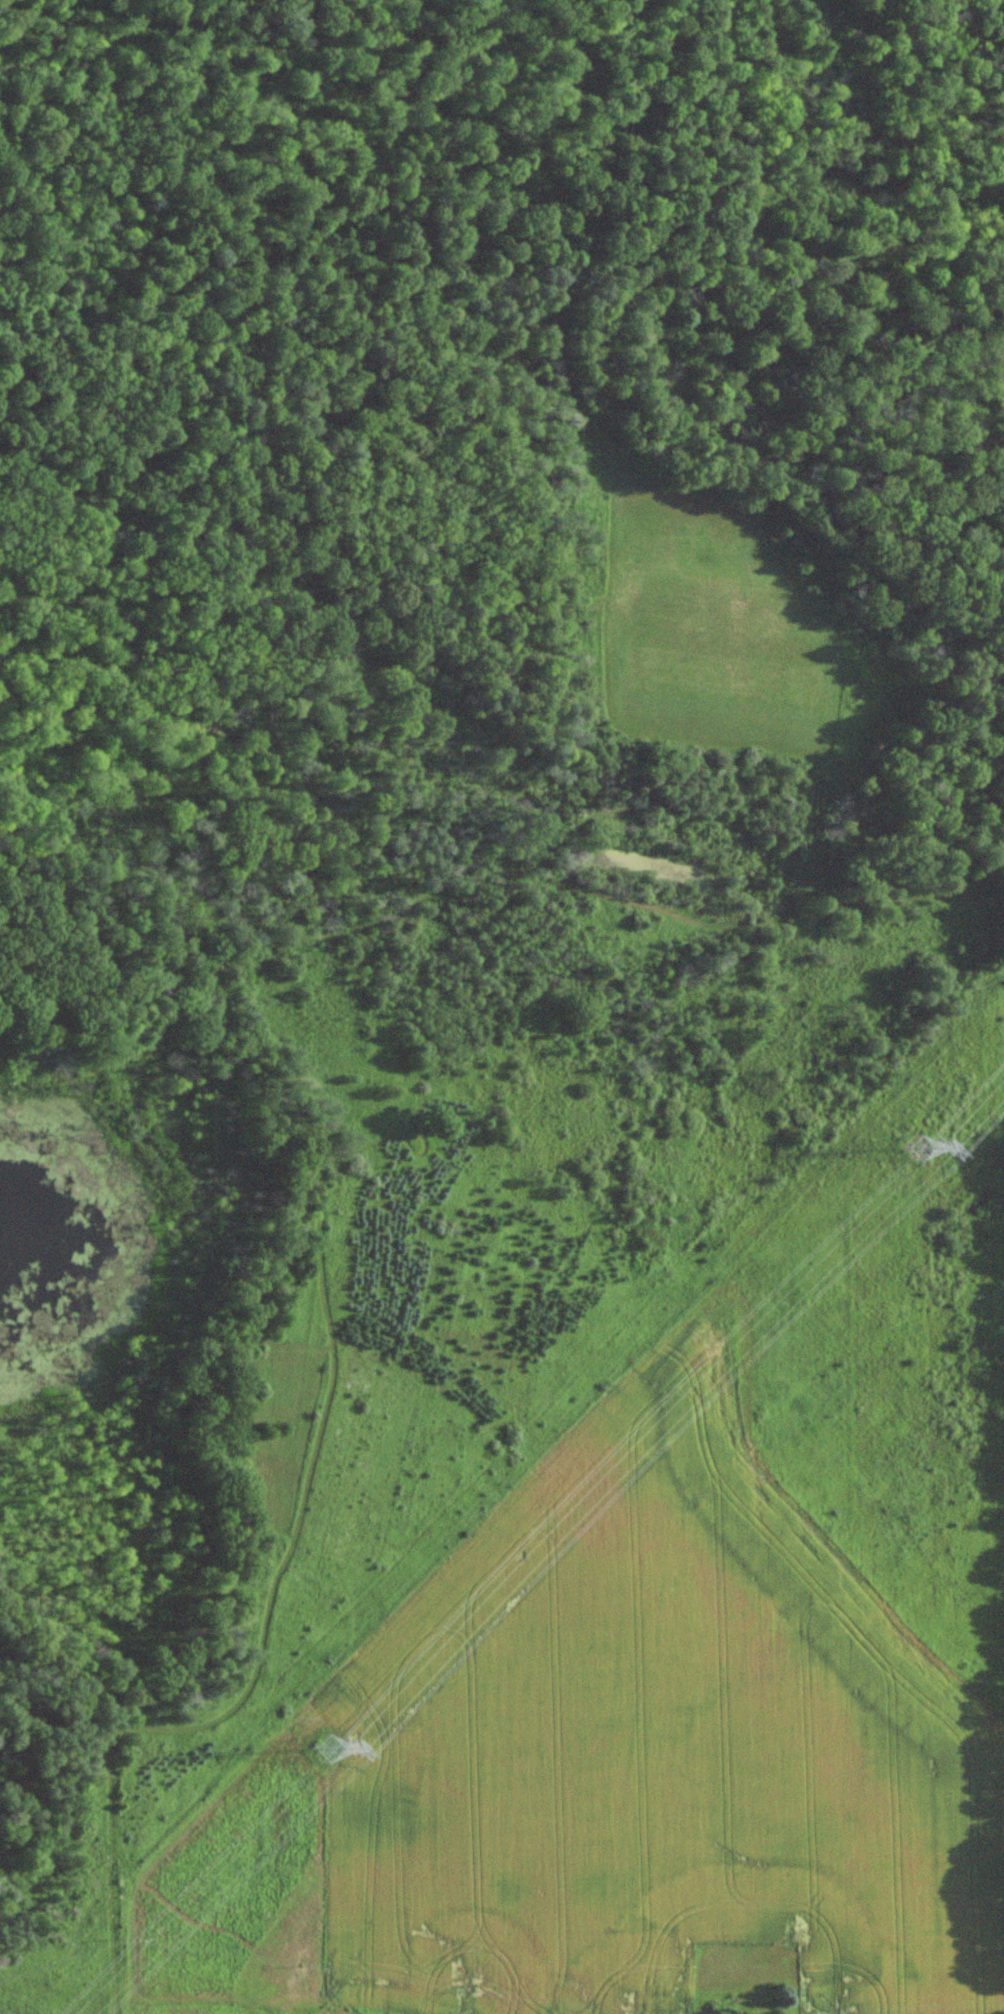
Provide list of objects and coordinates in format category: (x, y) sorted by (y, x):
power tower: (918, 1152)
power tower: (333, 1753)

